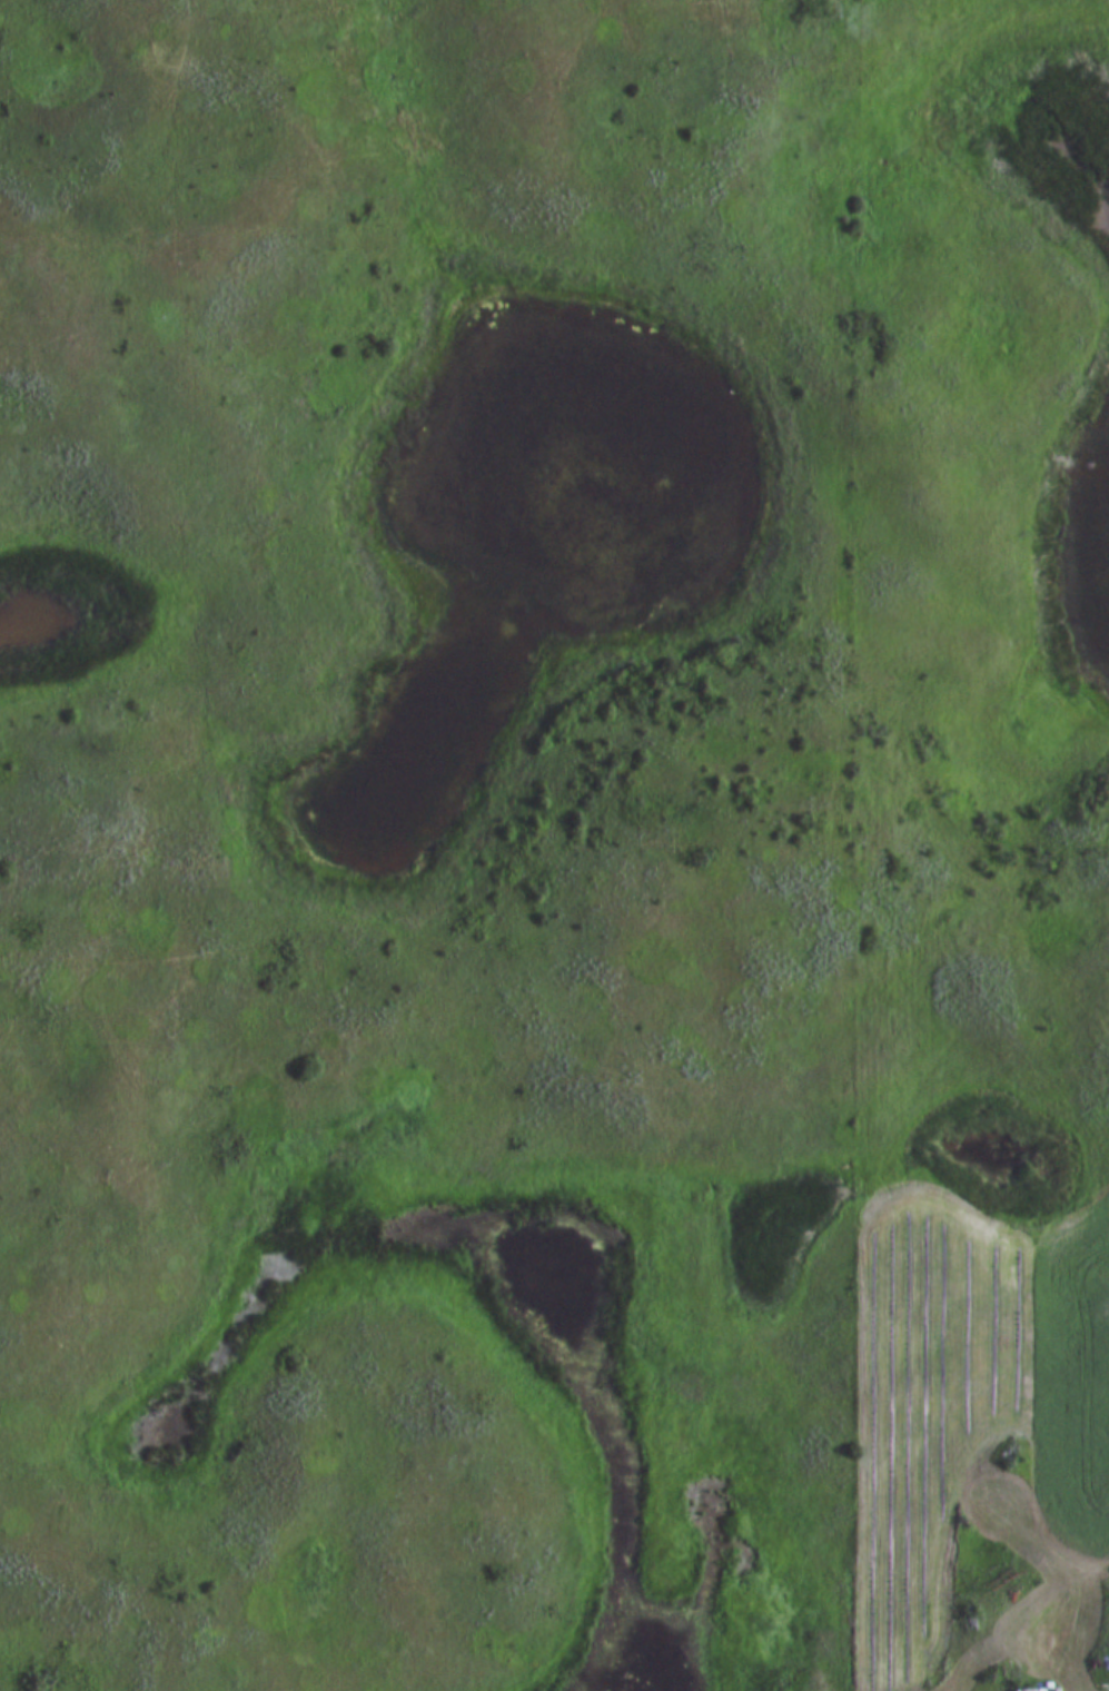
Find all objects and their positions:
building: (1038, 1690)

